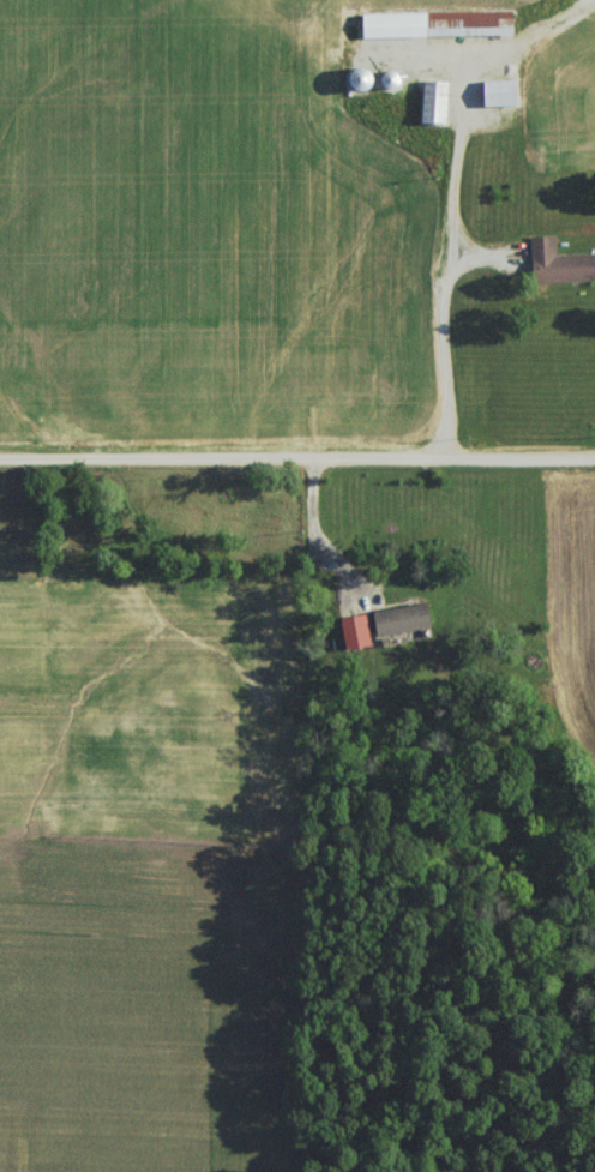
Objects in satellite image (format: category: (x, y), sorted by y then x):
building: (419, 30)
building: (361, 84)
building: (499, 98)
building: (433, 107)
building: (558, 269)
road: (440, 332)
road: (297, 457)
road: (317, 533)
building: (401, 625)
building: (354, 637)

